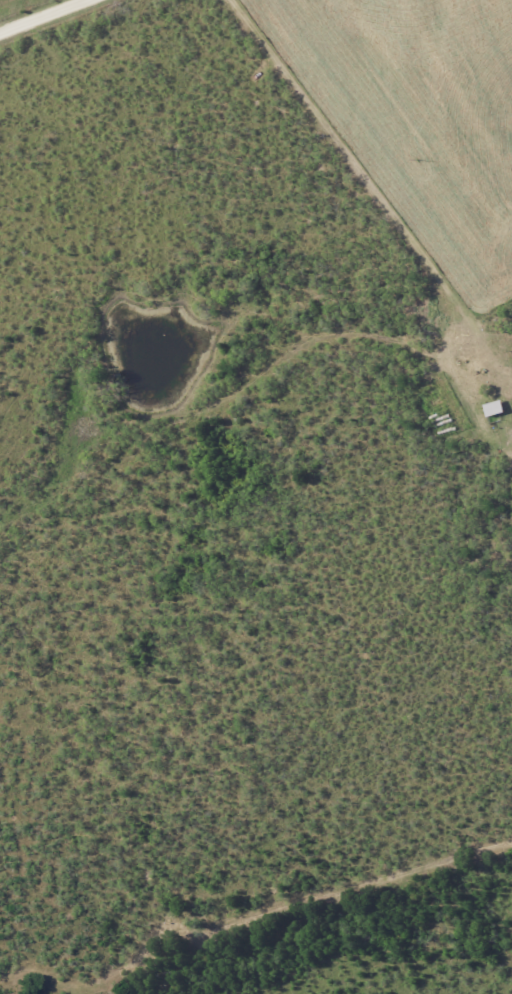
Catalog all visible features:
road: (40, 15)
road: (386, 142)

